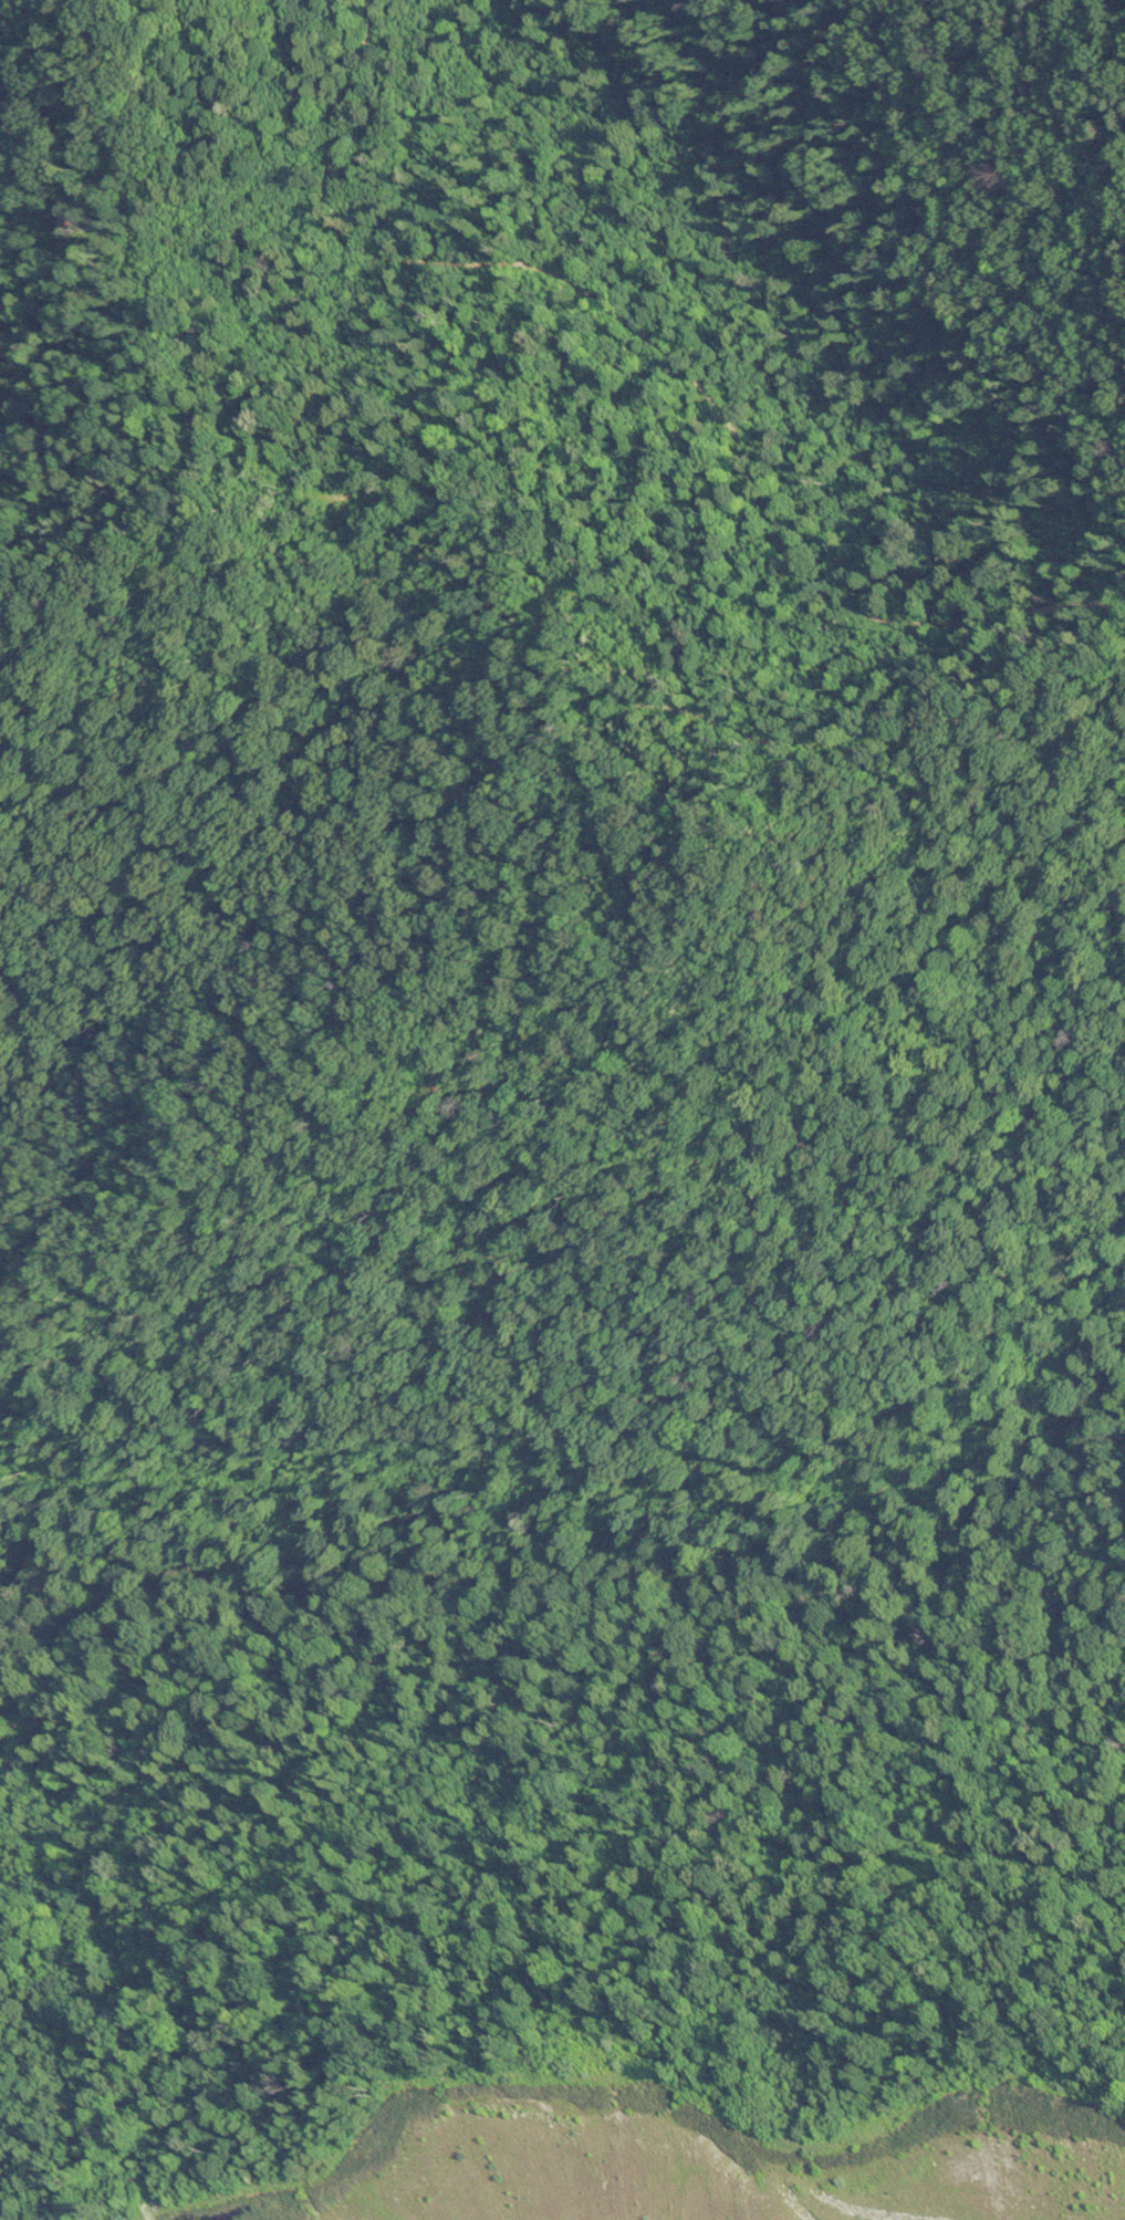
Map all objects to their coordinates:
quarry: (676, 2145)

